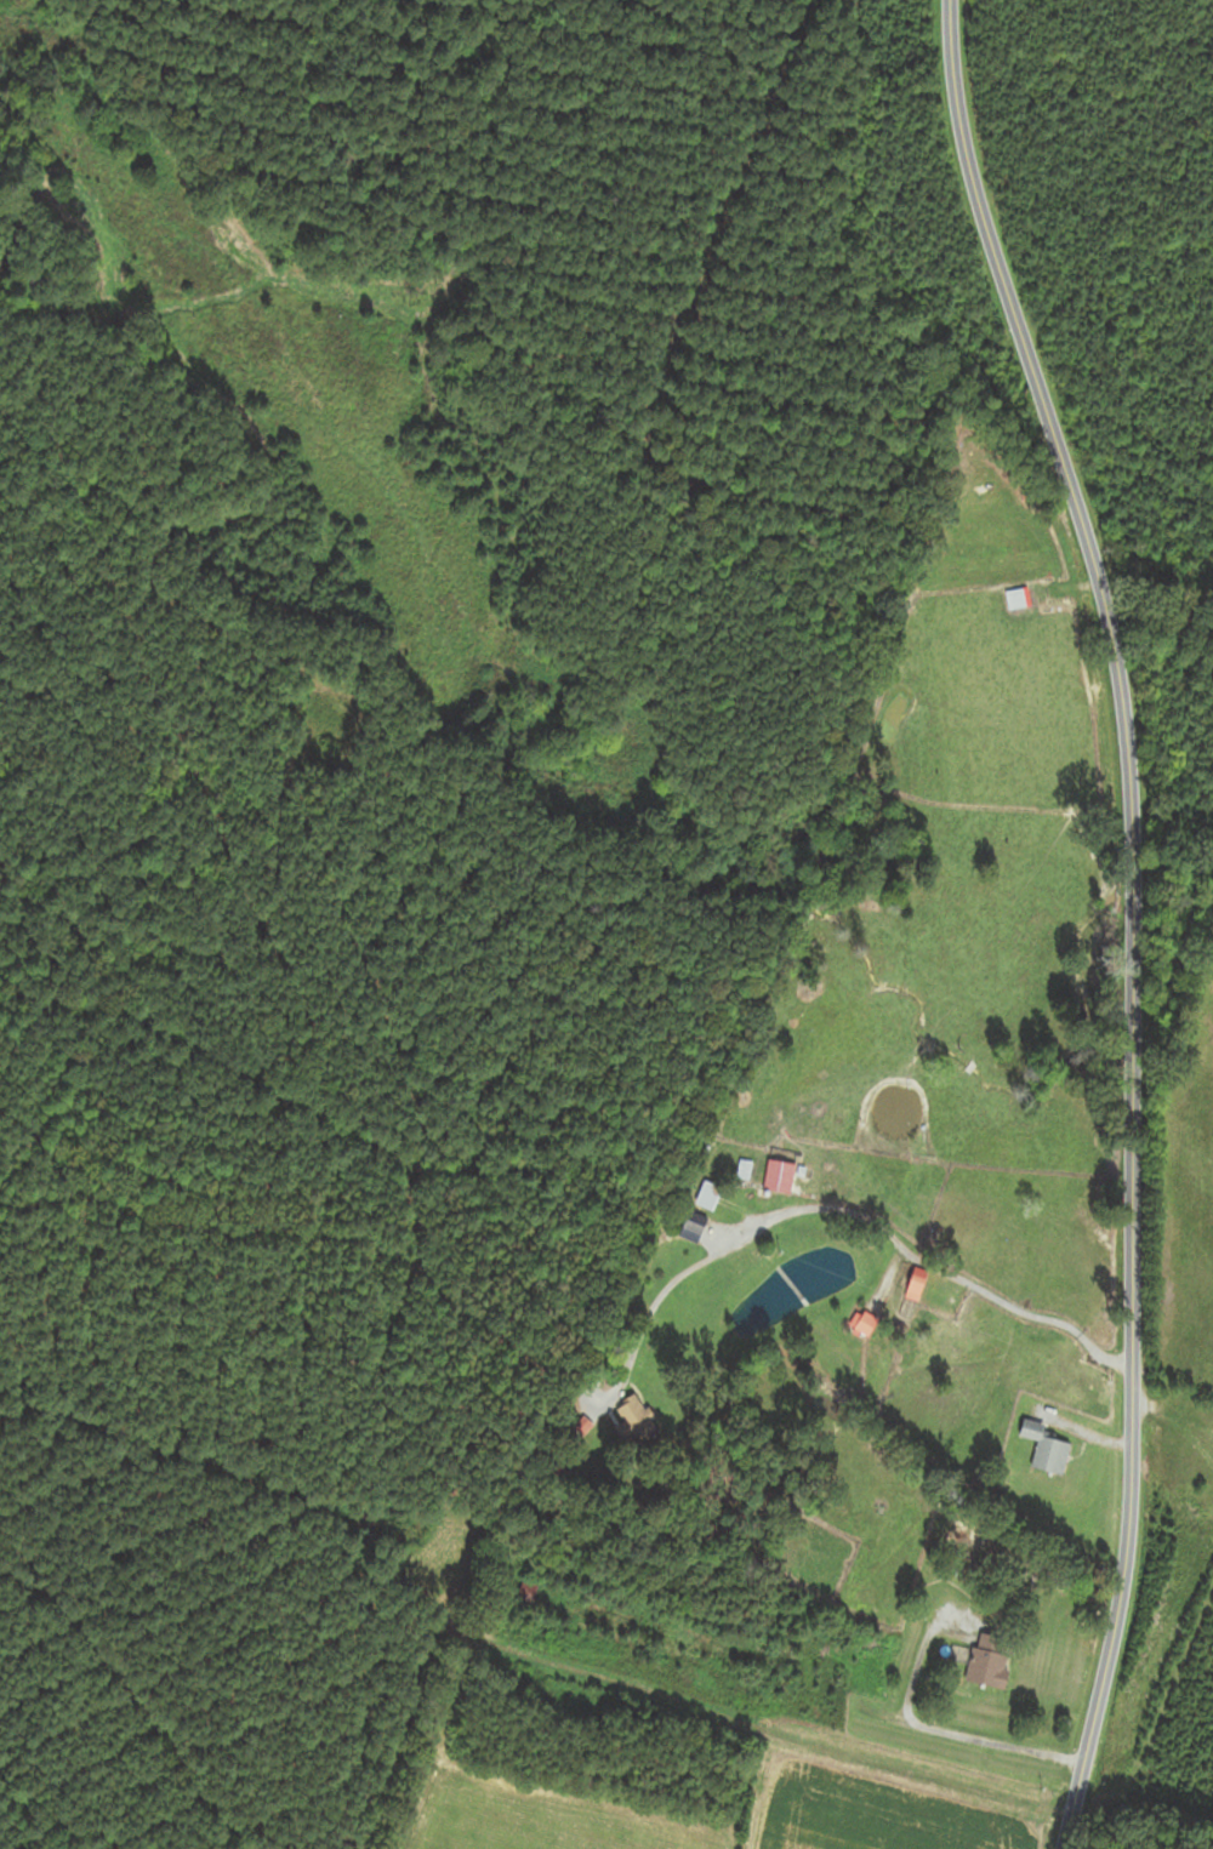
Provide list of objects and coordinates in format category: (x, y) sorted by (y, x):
road: (1132, 915)
building: (780, 1171)
road: (869, 1217)
building: (862, 1323)
building: (638, 1420)
building: (1047, 1449)
building: (656, 1630)
building: (989, 1661)
road: (934, 1730)

